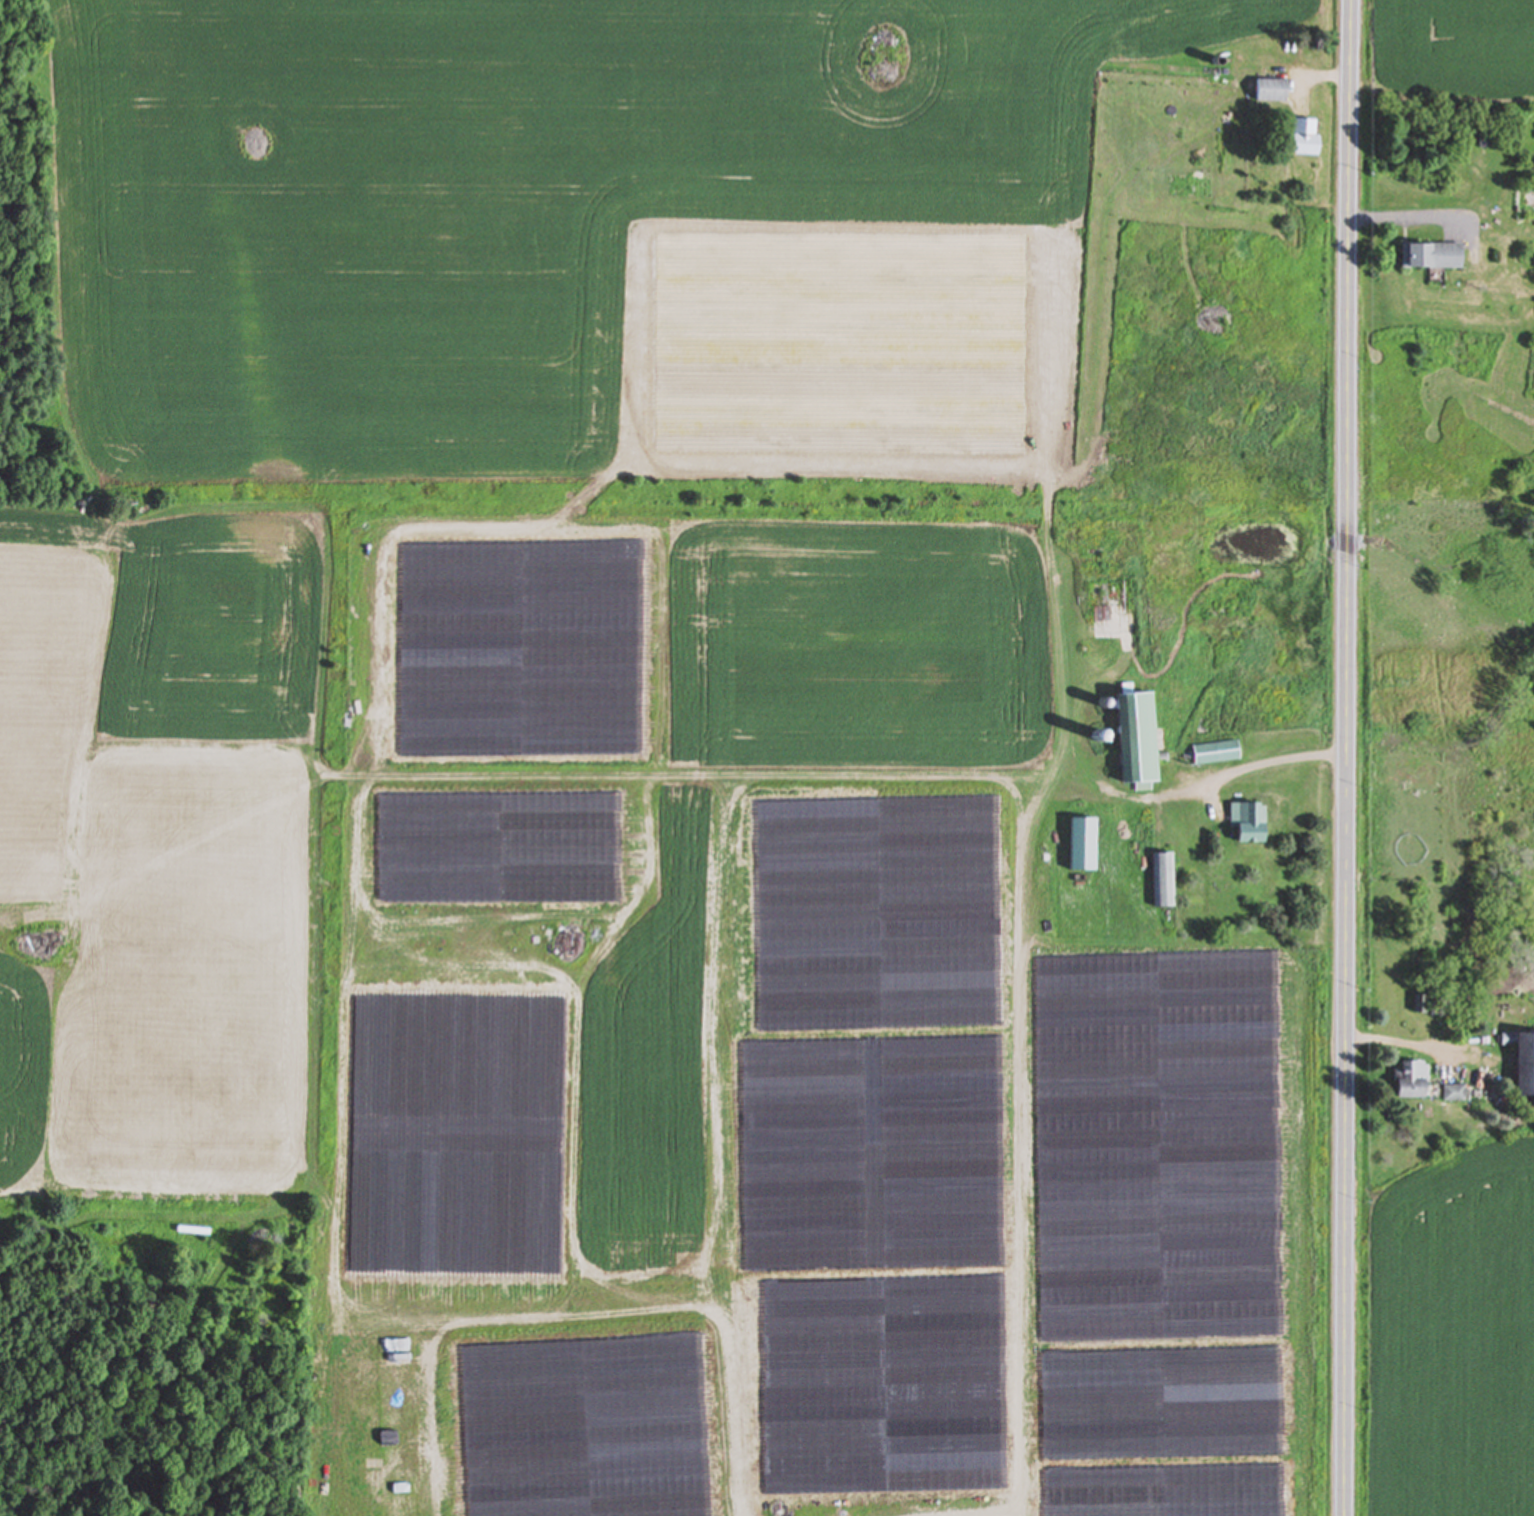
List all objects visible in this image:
building: (1268, 92)
building: (1299, 138)
building: (1429, 257)
building: (1133, 739)
building: (1213, 753)
road: (1348, 757)
building: (1245, 825)
building: (1161, 883)
building: (1522, 1067)
building: (1409, 1083)

